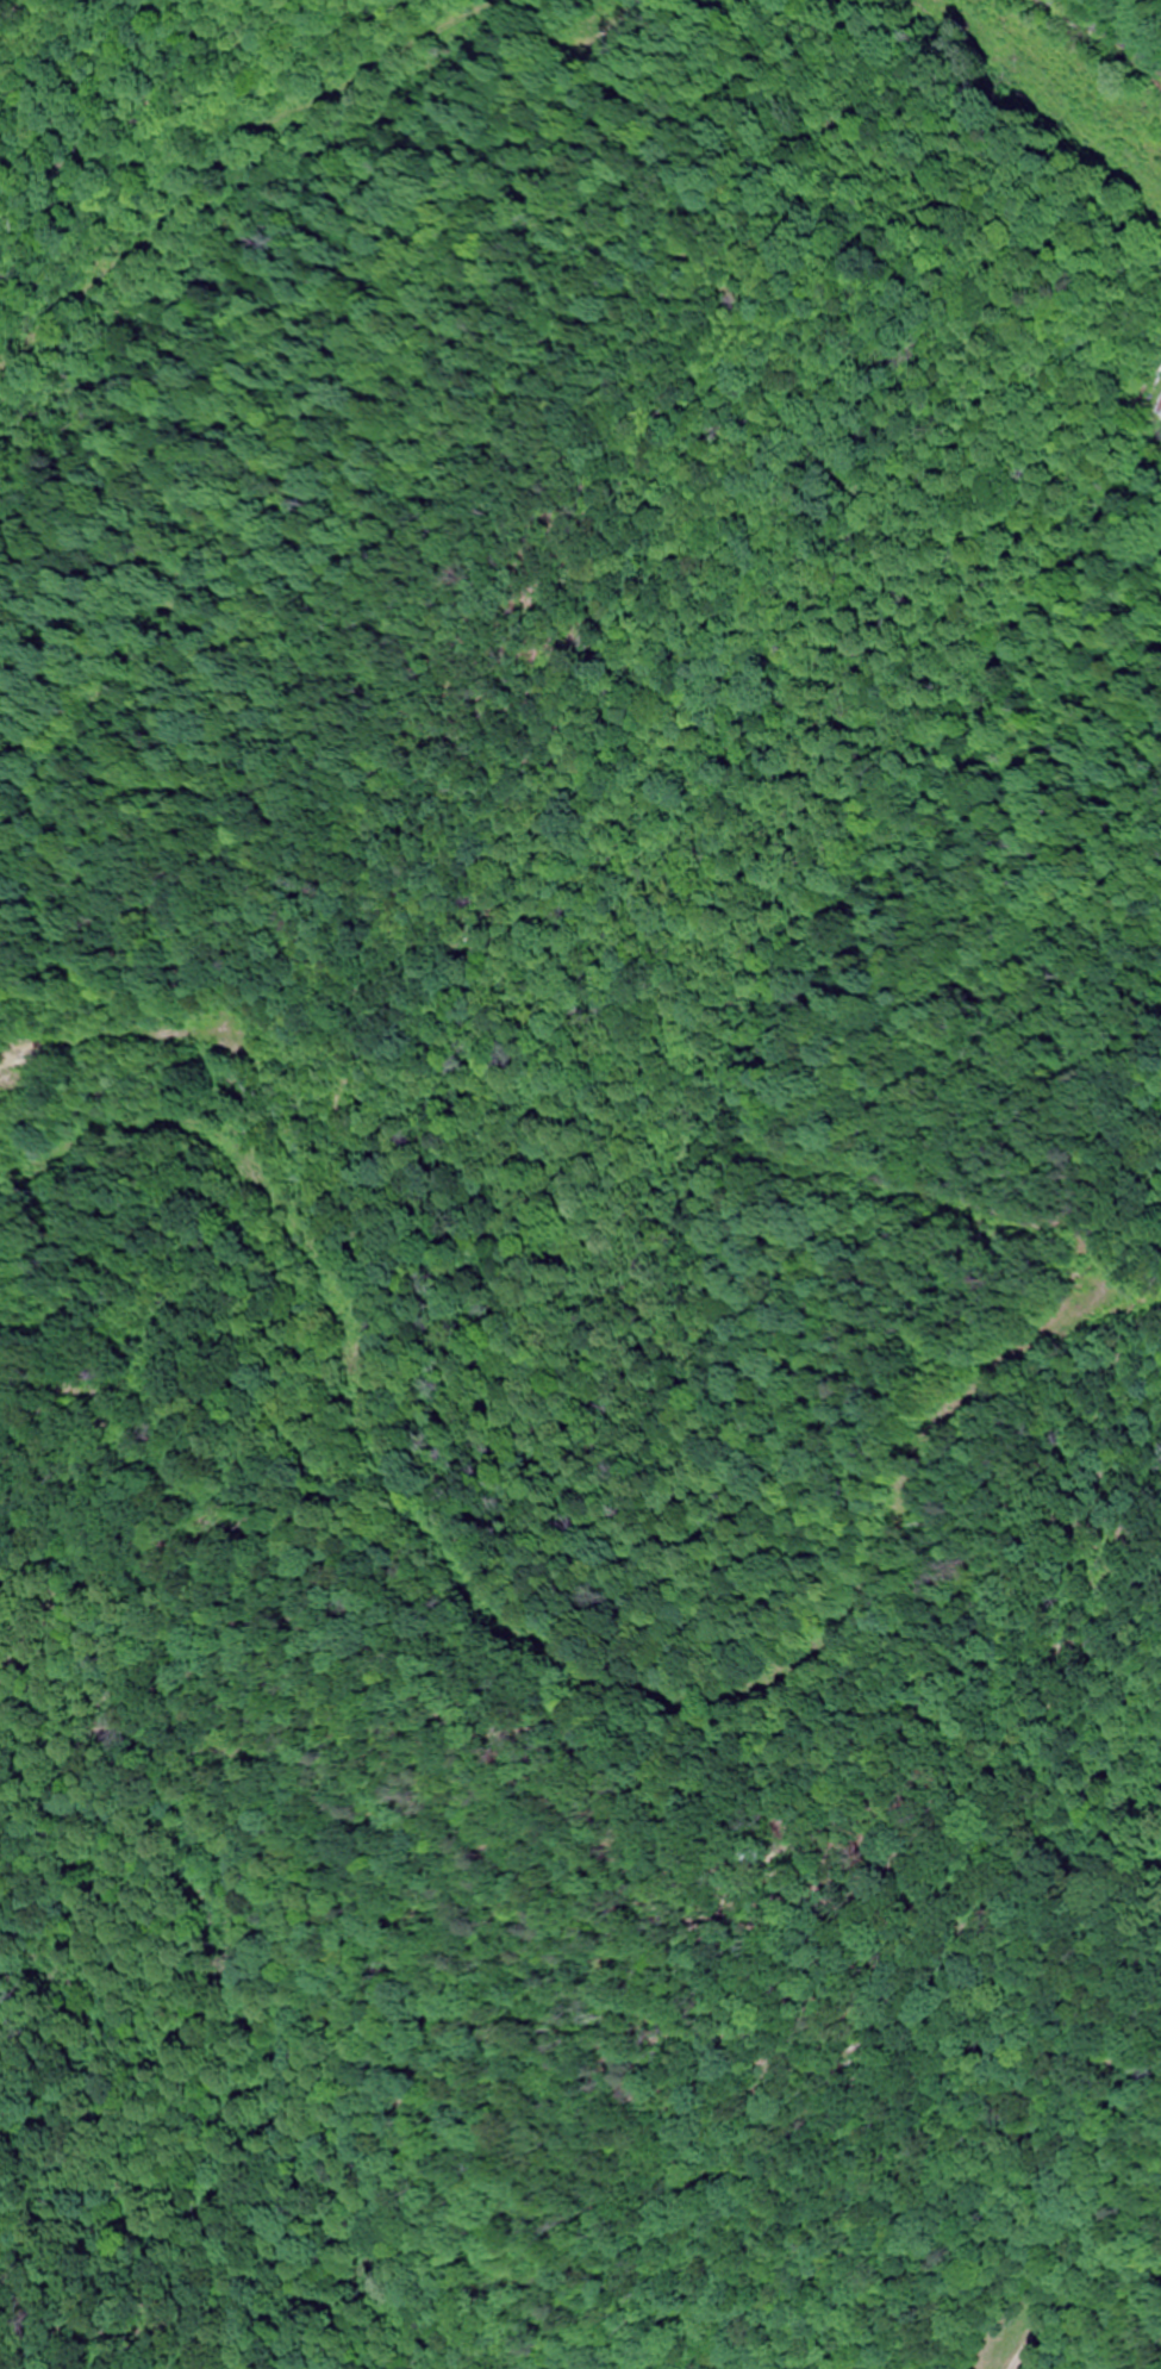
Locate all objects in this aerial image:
road: (1104, 42)

